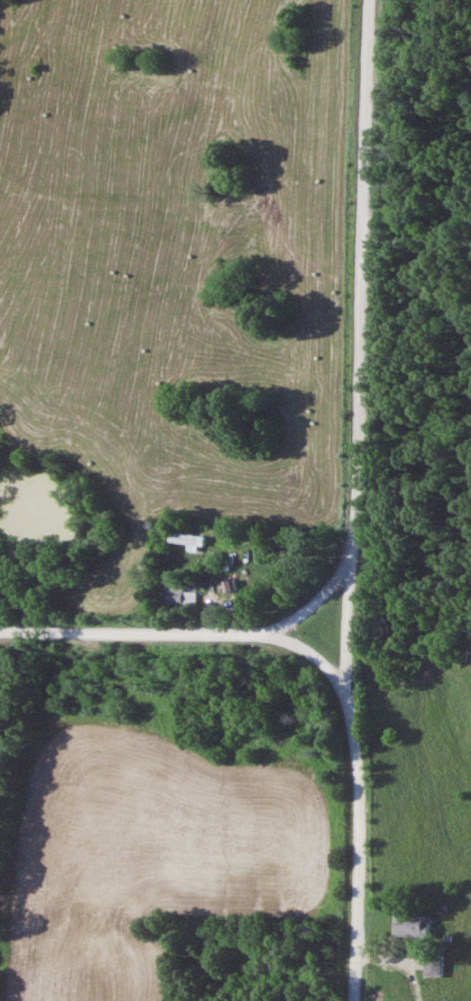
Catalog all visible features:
road: (358, 335)
building: (198, 539)
building: (190, 596)
road: (312, 596)
road: (136, 632)
road: (312, 653)
road: (357, 835)
building: (411, 925)
road: (403, 958)
building: (431, 965)

